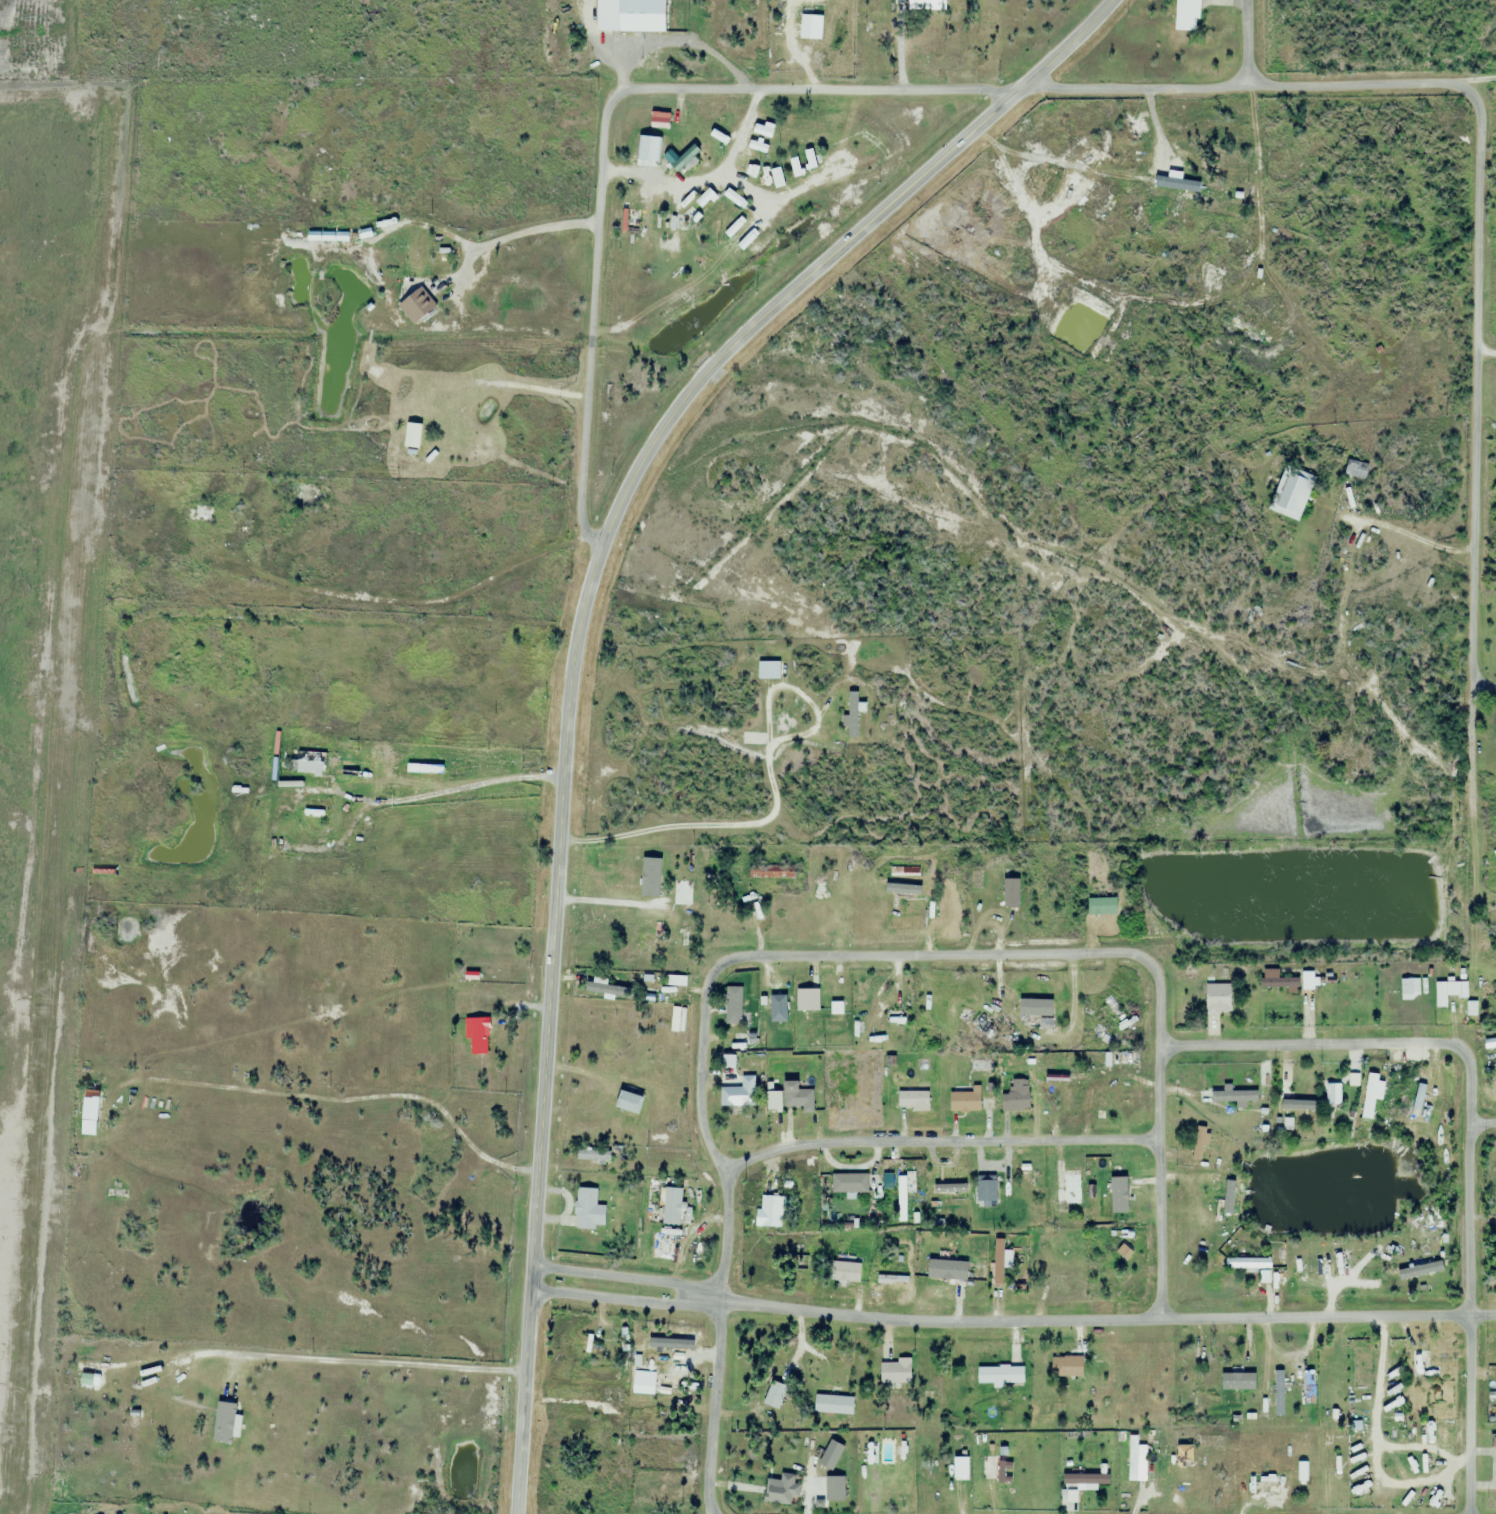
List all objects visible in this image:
building: (921, 2)
building: (1190, 15)
building: (807, 25)
road: (1243, 40)
road: (1469, 79)
road: (605, 117)
road: (706, 179)
building: (633, 219)
road: (1478, 224)
road: (531, 231)
building: (671, 236)
building: (416, 257)
building: (416, 305)
building: (1356, 469)
building: (161, 490)
building: (1291, 493)
building: (200, 514)
road: (405, 602)
road: (572, 651)
building: (772, 670)
road: (1483, 682)
building: (852, 714)
building: (301, 760)
building: (262, 770)
building: (423, 772)
road: (342, 795)
road: (776, 799)
building: (315, 807)
building: (772, 871)
building: (987, 877)
building: (683, 889)
building: (909, 889)
building: (1011, 893)
road: (604, 902)
building: (1102, 906)
building: (708, 915)
building: (655, 938)
road: (1115, 952)
building: (1278, 980)
building: (1309, 980)
building: (1448, 991)
building: (807, 999)
building: (1218, 999)
building: (771, 1003)
building: (1114, 1007)
building: (733, 1011)
building: (1036, 1012)
building: (965, 1014)
building: (894, 1017)
building: (984, 1027)
building: (1103, 1033)
building: (475, 1034)
road: (1350, 1044)
building: (1124, 1058)
building: (1067, 1081)
building: (1116, 1091)
building: (1286, 1091)
building: (1333, 1094)
building: (1372, 1094)
building: (797, 1096)
building: (1016, 1096)
building: (1234, 1097)
building: (913, 1098)
building: (737, 1099)
road: (333, 1100)
building: (628, 1101)
building: (965, 1101)
building: (1418, 1102)
building: (89, 1110)
road: (1485, 1123)
road: (939, 1141)
building: (1199, 1143)
building: (593, 1154)
building: (1208, 1181)
building: (851, 1183)
building: (1119, 1187)
building: (1070, 1188)
building: (946, 1189)
building: (987, 1190)
building: (900, 1195)
building: (670, 1206)
building: (586, 1208)
building: (769, 1210)
road: (723, 1233)
building: (662, 1246)
building: (1249, 1263)
building: (1335, 1268)
building: (947, 1269)
building: (845, 1271)
building: (1054, 1271)
road: (1469, 1318)
road: (1010, 1320)
road: (349, 1361)
building: (1421, 1363)
building: (1066, 1367)
building: (895, 1372)
building: (88, 1375)
building: (1001, 1375)
building: (1287, 1377)
road: (563, 1393)
building: (1221, 1394)
building: (180, 1431)
building: (1493, 1442)
building: (989, 1468)
building: (957, 1474)
building: (96, 1511)
building: (114, 1512)
building: (142, 1513)

